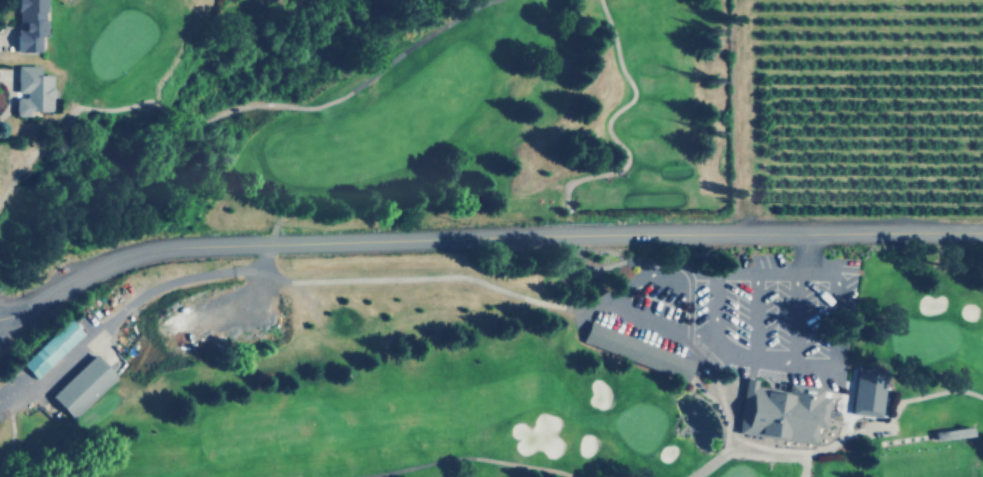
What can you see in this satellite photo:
building: (28, 24)
building: (31, 90)
road: (341, 95)
road: (165, 106)
road: (63, 121)
road: (608, 121)
road: (484, 238)
park: (447, 261)
road: (658, 265)
road: (429, 276)
road: (131, 302)
road: (619, 308)
road: (754, 314)
road: (794, 316)
building: (52, 347)
building: (633, 348)
road: (739, 354)
building: (86, 385)
road: (931, 393)
building: (867, 396)
building: (780, 412)
road: (728, 424)
road: (726, 443)
road: (467, 457)
road: (793, 458)
road: (804, 468)

